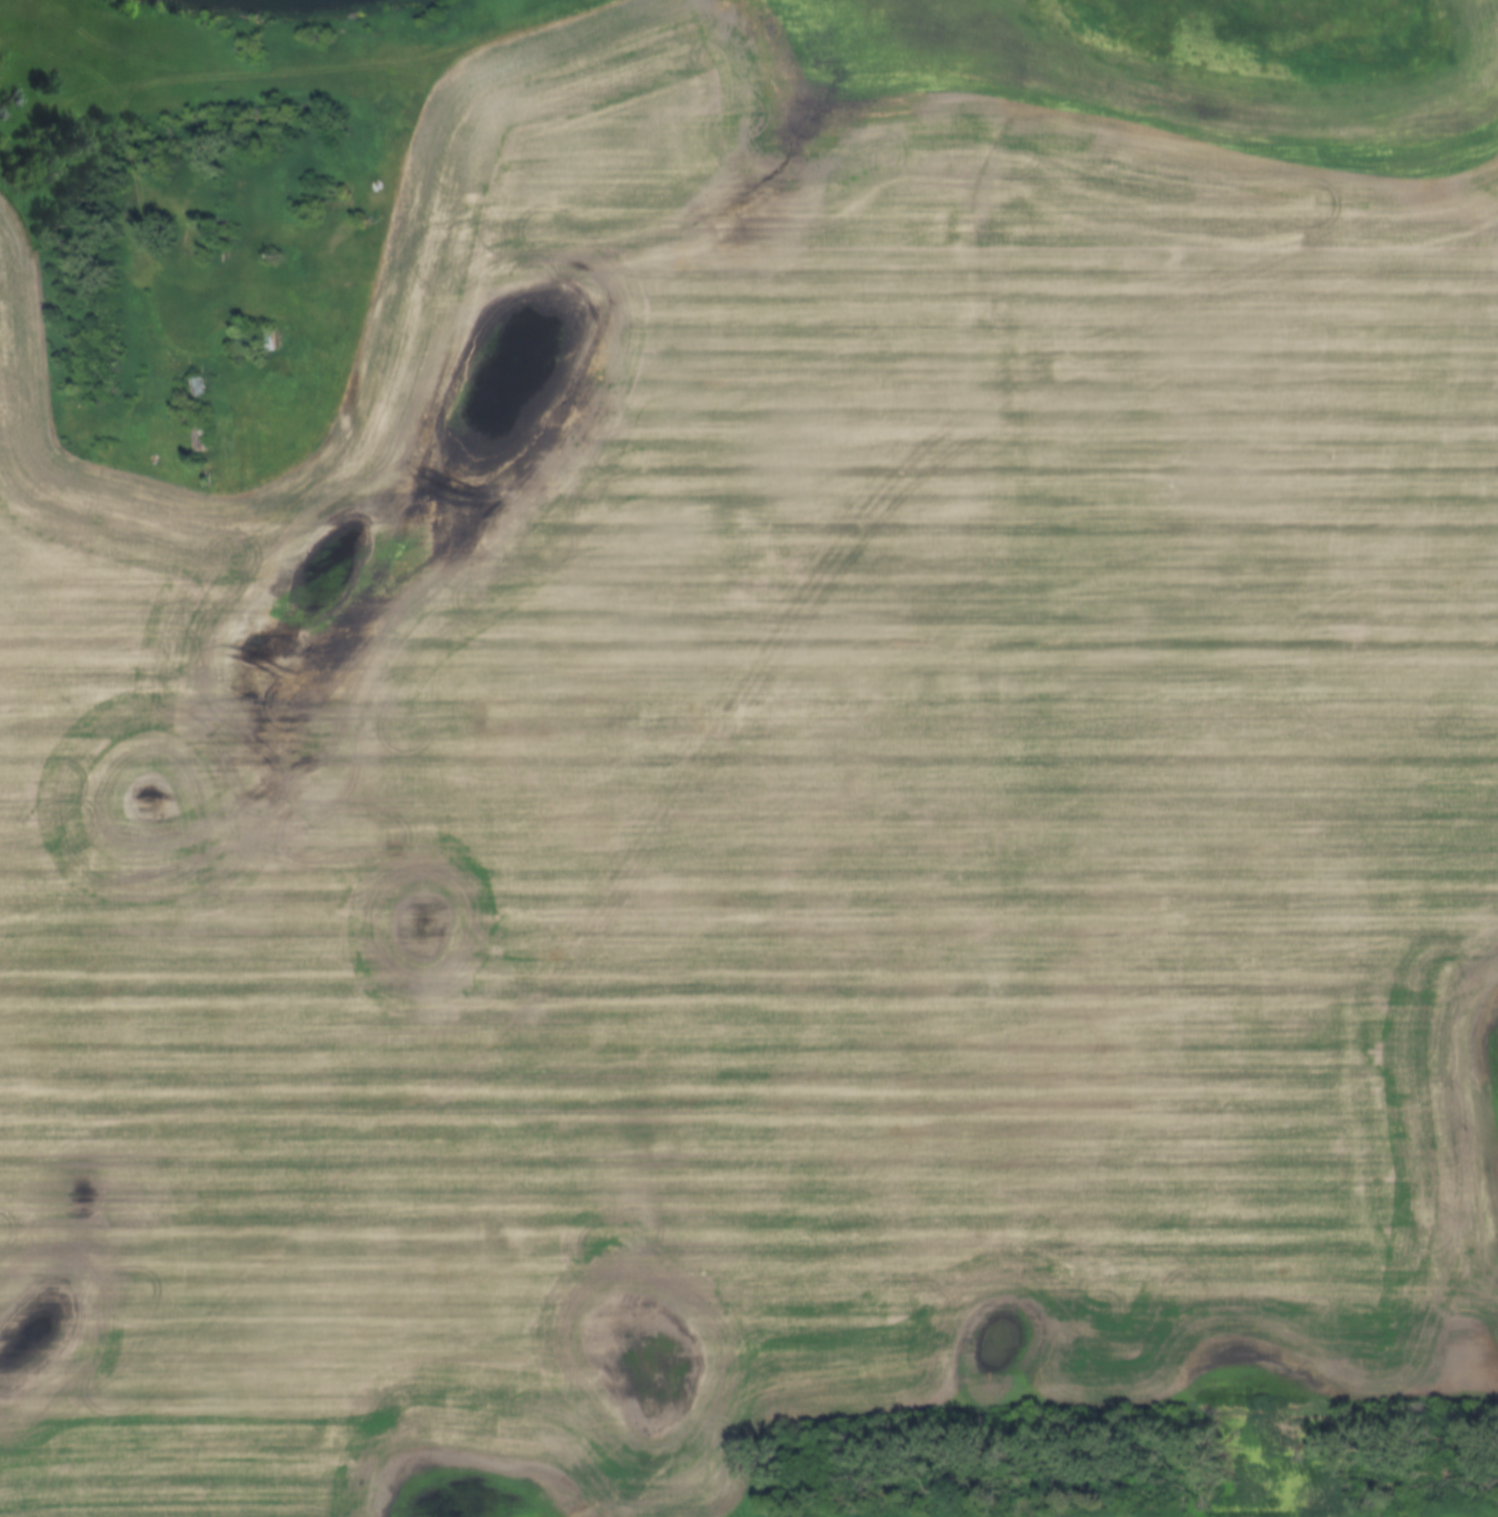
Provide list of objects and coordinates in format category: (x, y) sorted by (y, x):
road: (300, 64)
building: (197, 436)

